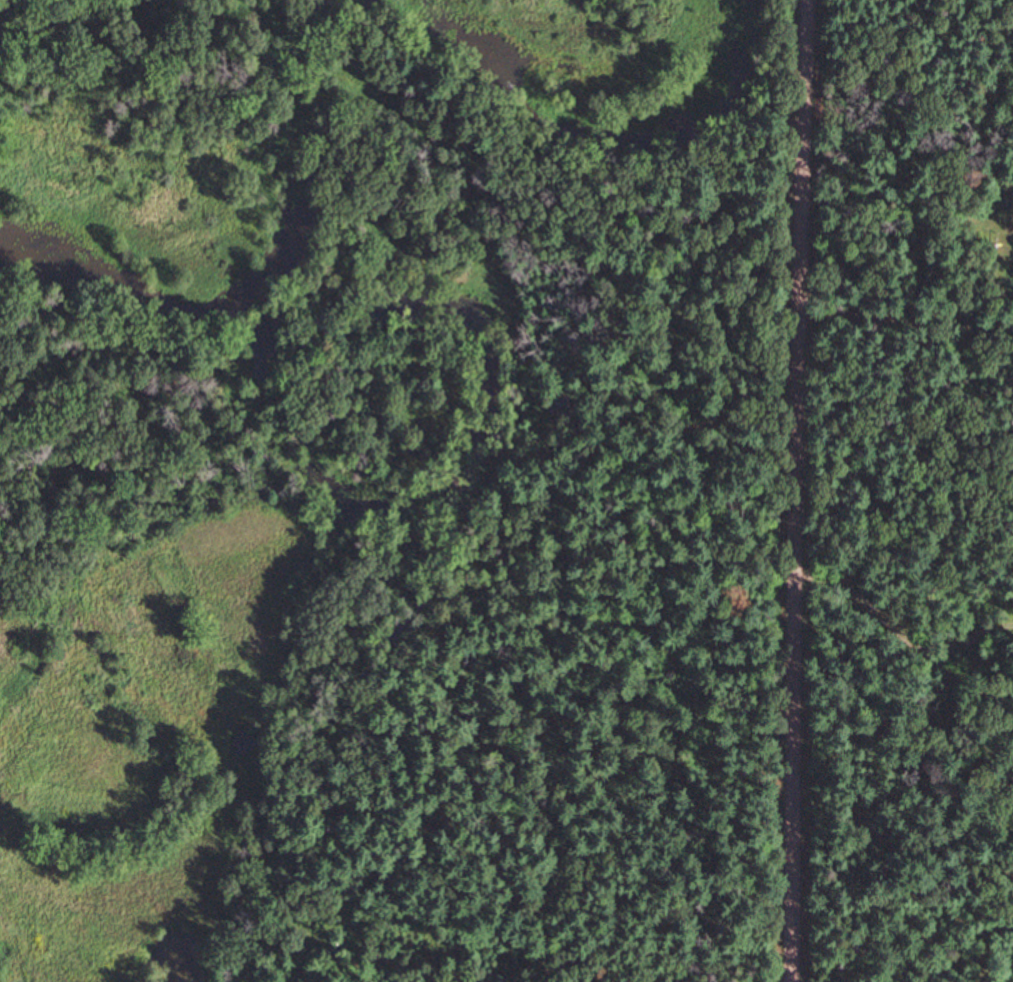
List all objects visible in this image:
road: (796, 490)

